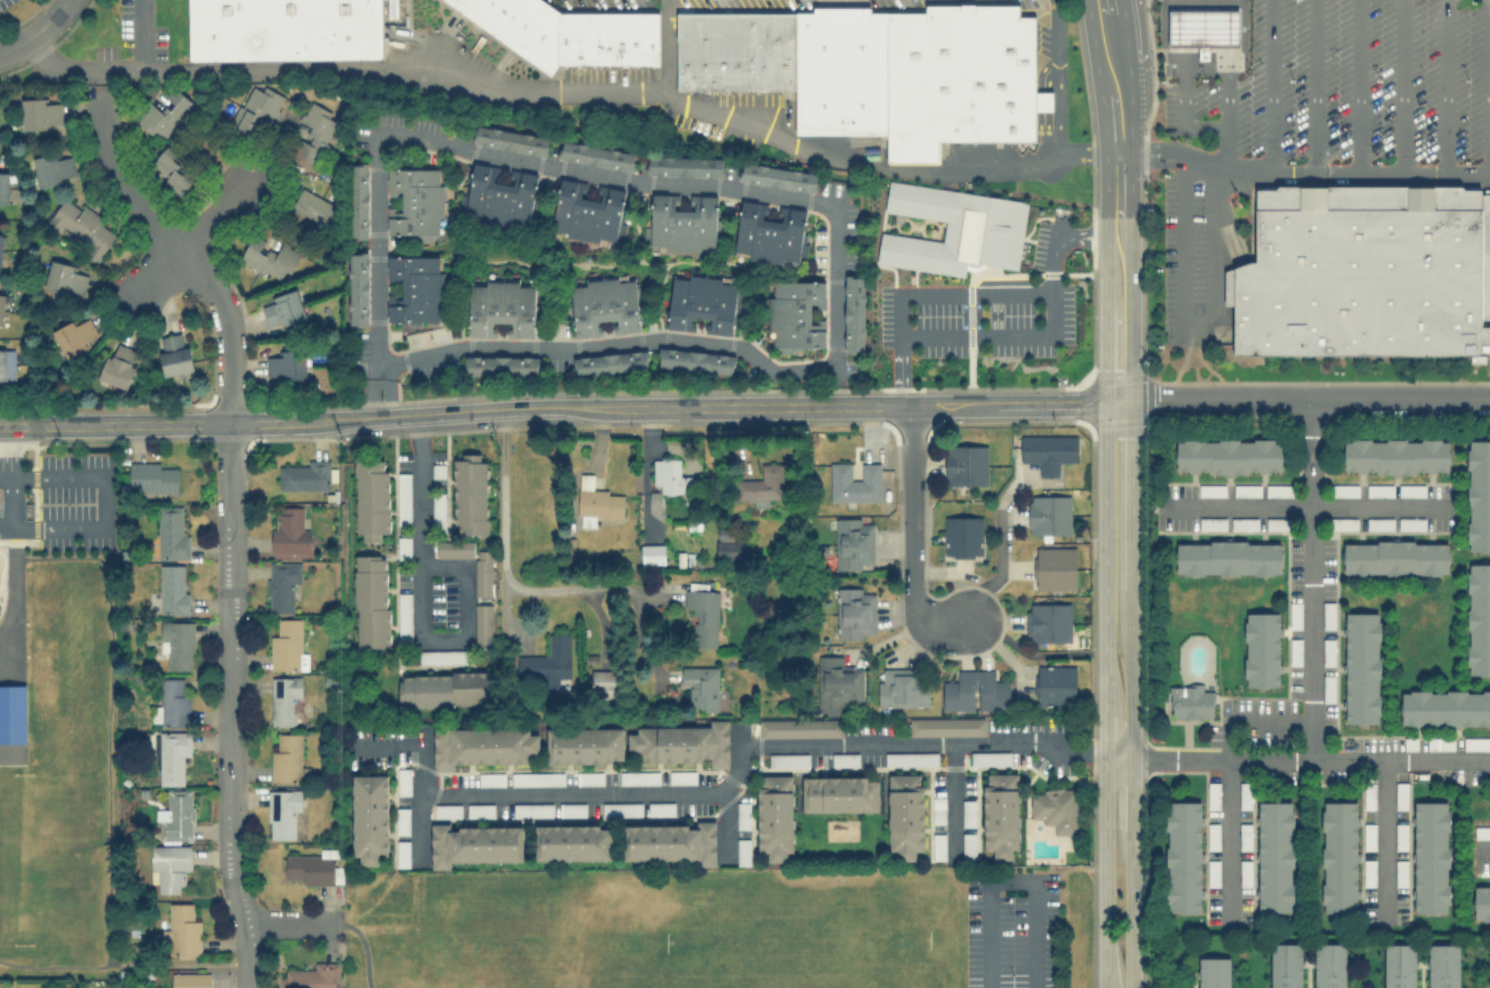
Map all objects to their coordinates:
parking lot: (681, 3)
parking lot: (894, 3)
road: (1179, 4)
road: (1228, 4)
road: (49, 20)
building: (516, 26)
road: (1180, 27)
road: (1228, 27)
building: (1202, 28)
gas station: (1202, 28)
building: (283, 32)
road: (135, 34)
building: (606, 38)
road: (1137, 46)
road: (15, 48)
road: (669, 48)
building: (735, 55)
road: (1180, 56)
road: (1228, 56)
road: (1204, 67)
building: (841, 73)
road: (76, 74)
building: (960, 77)
road: (1056, 78)
parking lot: (1351, 84)
road: (1270, 89)
road: (1314, 89)
road: (1358, 89)
road: (1401, 89)
road: (1445, 89)
road: (1488, 89)
road: (86, 91)
road: (1115, 107)
building: (256, 108)
building: (40, 113)
building: (163, 114)
road: (1181, 120)
road: (755, 130)
building: (313, 133)
building: (511, 140)
building: (596, 155)
building: (685, 166)
building: (52, 169)
building: (172, 170)
building: (777, 177)
building: (4, 187)
building: (499, 197)
building: (357, 200)
building: (415, 201)
road: (801, 203)
building: (313, 207)
building: (588, 212)
road: (215, 213)
building: (683, 223)
building: (82, 227)
building: (954, 229)
road: (1091, 231)
building: (770, 232)
road: (1091, 242)
road: (191, 248)
building: (1, 249)
parking lot: (1181, 252)
building: (1485, 256)
building: (270, 258)
road: (162, 268)
building: (1361, 273)
building: (65, 278)
building: (415, 288)
building: (358, 289)
road: (958, 298)
road: (1212, 301)
building: (704, 303)
building: (604, 305)
building: (1, 307)
building: (501, 307)
building: (283, 308)
road: (1117, 308)
building: (854, 313)
building: (796, 314)
building: (73, 336)
road: (998, 338)
building: (174, 354)
building: (695, 361)
building: (610, 363)
building: (7, 364)
building: (119, 365)
building: (285, 365)
building: (502, 365)
road: (378, 392)
road: (1303, 400)
road: (1013, 403)
road: (752, 405)
road: (486, 408)
road: (305, 419)
road: (116, 423)
building: (1048, 451)
building: (1227, 454)
building: (1395, 455)
building: (965, 464)
building: (438, 470)
building: (305, 475)
building: (667, 475)
road: (51, 476)
building: (152, 477)
road: (15, 481)
building: (854, 482)
building: (761, 485)
building: (1211, 490)
building: (1246, 490)
building: (1278, 490)
building: (1344, 490)
building: (1379, 490)
building: (1411, 490)
building: (469, 493)
building: (1478, 495)
parking lot: (61, 497)
building: (403, 498)
building: (371, 499)
building: (597, 505)
road: (1304, 510)
building: (438, 511)
building: (1048, 514)
building: (1212, 523)
building: (1244, 523)
building: (1278, 523)
building: (1343, 523)
building: (1379, 523)
building: (1411, 523)
road: (59, 527)
building: (289, 530)
road: (503, 531)
building: (171, 533)
building: (962, 536)
road: (910, 537)
building: (854, 543)
building: (725, 544)
building: (403, 548)
building: (454, 549)
building: (651, 553)
building: (1228, 557)
building: (1394, 557)
building: (1054, 567)
road: (999, 570)
building: (483, 572)
road: (1311, 581)
building: (281, 585)
building: (173, 588)
building: (370, 600)
road: (421, 602)
building: (703, 612)
building: (855, 612)
building: (1295, 614)
building: (1328, 614)
building: (403, 617)
building: (1478, 618)
building: (483, 619)
building: (1047, 622)
road: (625, 627)
building: (177, 643)
building: (287, 646)
building: (1261, 649)
building: (1295, 651)
building: (1328, 651)
building: (443, 656)
road: (1039, 656)
building: (548, 663)
building: (1362, 667)
building: (604, 683)
building: (836, 683)
building: (700, 685)
building: (1055, 685)
building: (901, 687)
building: (1328, 687)
building: (447, 689)
building: (975, 691)
road: (1118, 695)
building: (284, 701)
building: (1189, 701)
building: (171, 704)
road: (233, 706)
building: (1445, 707)
building: (11, 713)
building: (947, 726)
building: (800, 727)
building: (682, 743)
building: (1410, 743)
building: (1440, 743)
building: (1476, 743)
road: (109, 744)
building: (483, 744)
building: (584, 745)
road: (937, 746)
road: (387, 749)
building: (286, 756)
building: (173, 757)
building: (990, 757)
building: (911, 758)
building: (789, 759)
building: (844, 759)
building: (589, 777)
building: (639, 777)
building: (682, 777)
building: (490, 778)
building: (537, 778)
building: (403, 780)
road: (1228, 783)
building: (840, 793)
building: (1213, 794)
building: (1244, 794)
building: (1369, 795)
building: (1400, 795)
road: (417, 797)
road: (950, 804)
building: (1055, 807)
building: (661, 808)
building: (479, 809)
building: (533, 809)
building: (572, 809)
building: (621, 809)
building: (938, 809)
building: (446, 810)
building: (967, 812)
building: (1001, 813)
building: (282, 814)
building: (905, 814)
building: (742, 815)
building: (775, 815)
building: (176, 816)
building: (369, 817)
building: (402, 820)
road: (725, 828)
building: (1482, 832)
building: (1369, 835)
building: (1213, 836)
building: (1244, 836)
building: (1400, 836)
building: (670, 841)
building: (573, 842)
building: (476, 843)
building: (968, 845)
road: (1383, 845)
building: (938, 846)
building: (742, 851)
building: (402, 853)
road: (1483, 854)
building: (1183, 856)
building: (1431, 856)
building: (1274, 857)
building: (1339, 857)
building: (169, 866)
building: (314, 867)
building: (1213, 872)
building: (1244, 872)
building: (1369, 872)
building: (1400, 872)
road: (1012, 882)
park: (50, 884)
building: (1481, 902)
road: (291, 923)
park: (722, 928)
building: (182, 930)
road: (364, 945)
road: (124, 962)
building: (1285, 965)
building: (1329, 965)
building: (1399, 965)
building: (1443, 965)
building: (1213, 972)
building: (314, 976)
building: (190, 980)

